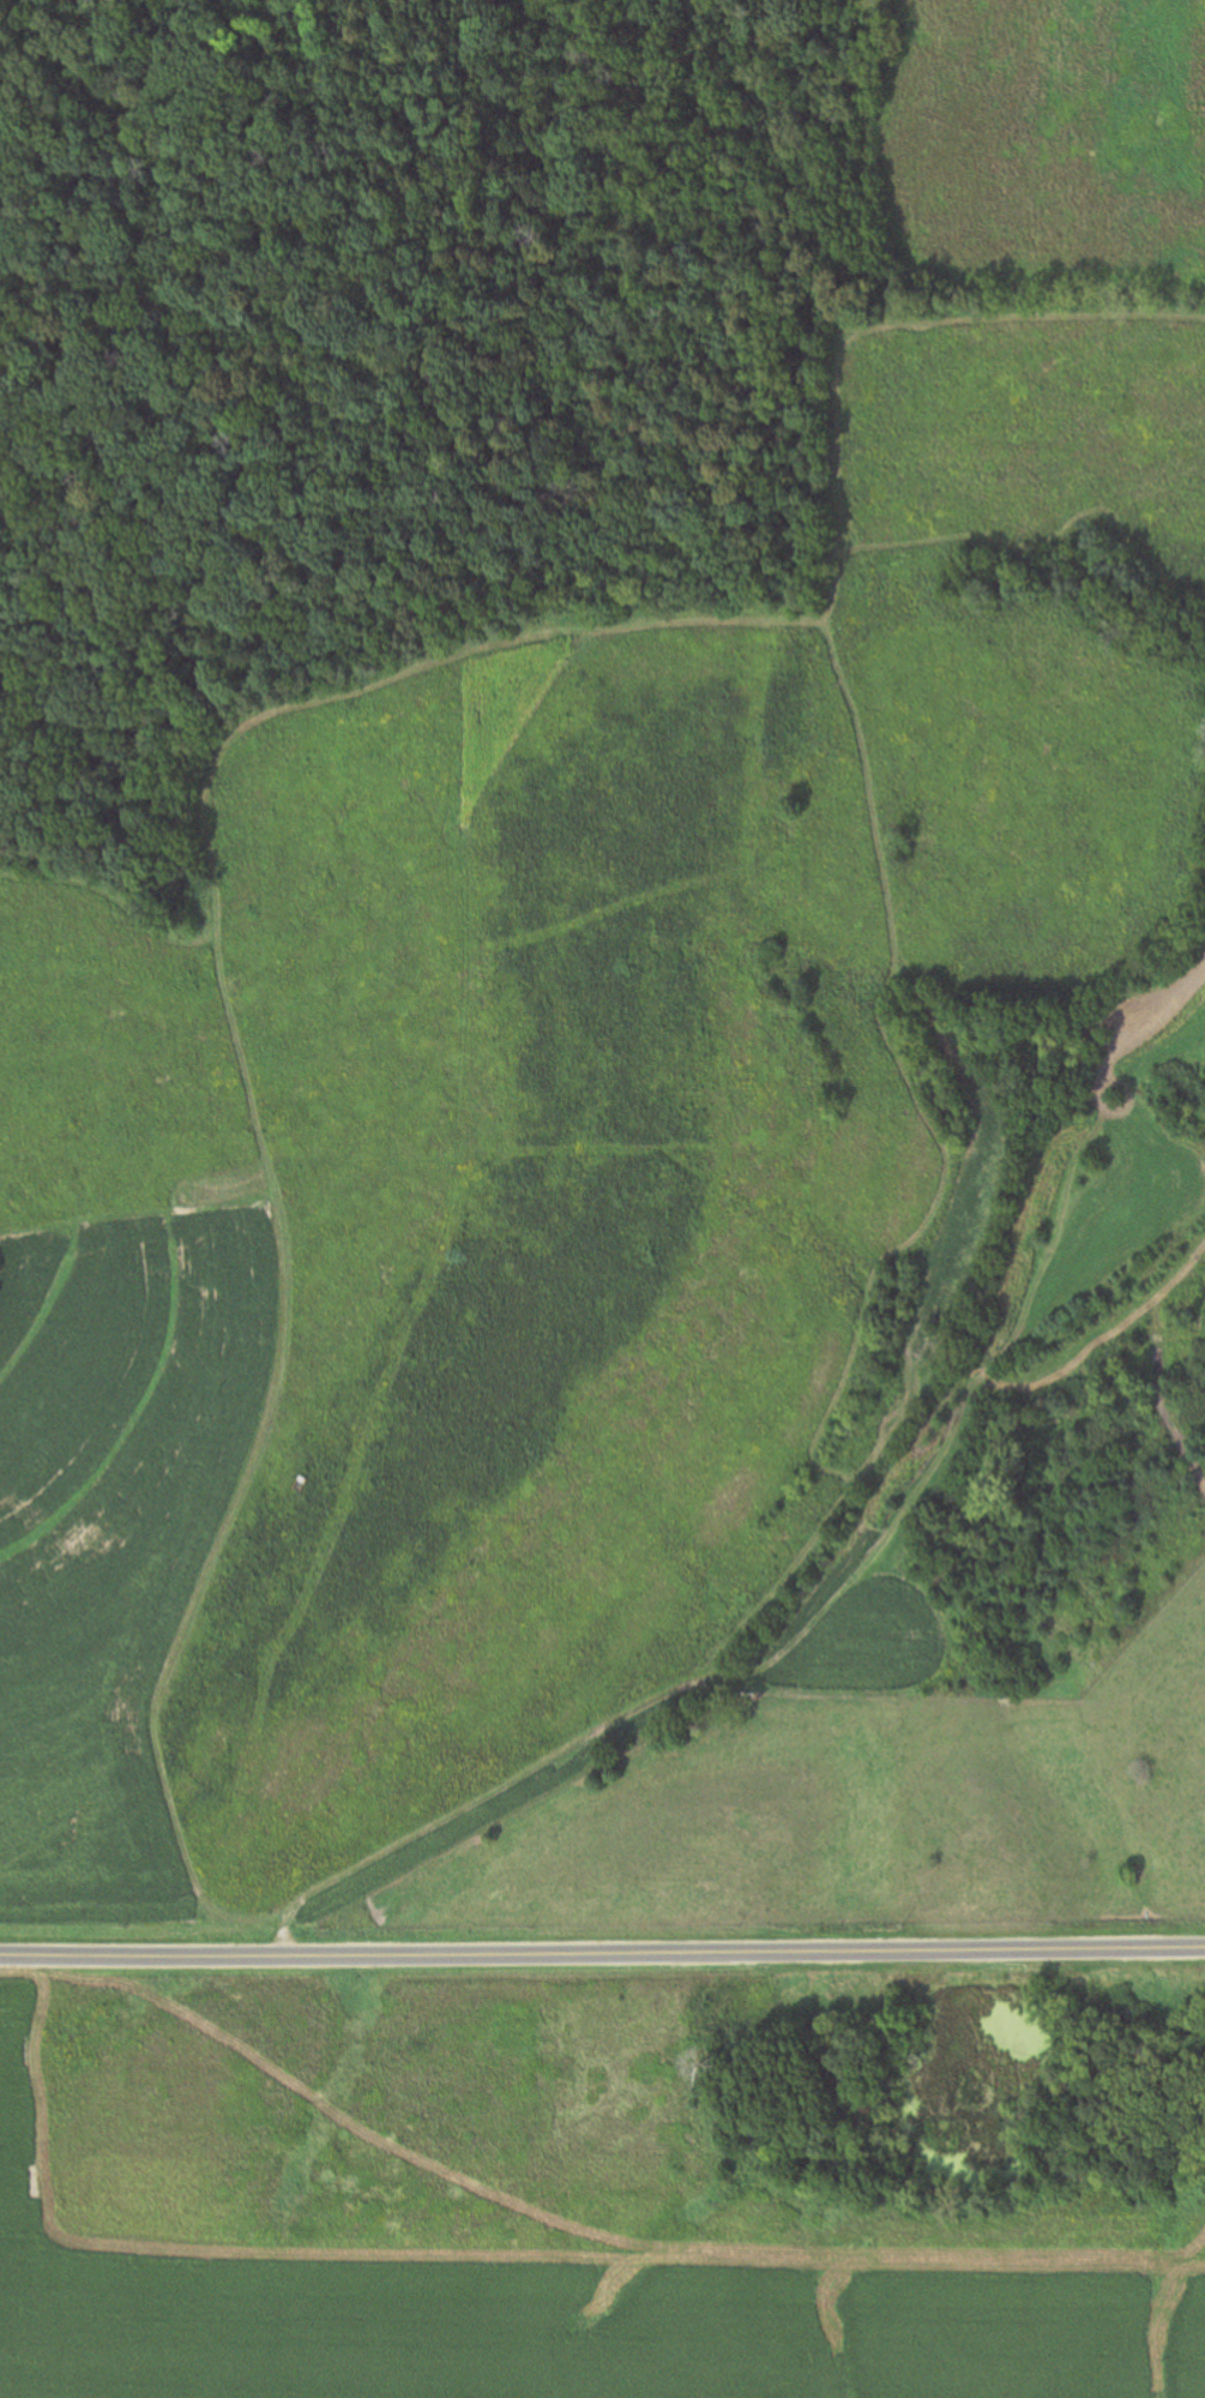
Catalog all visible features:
road: (602, 1957)

